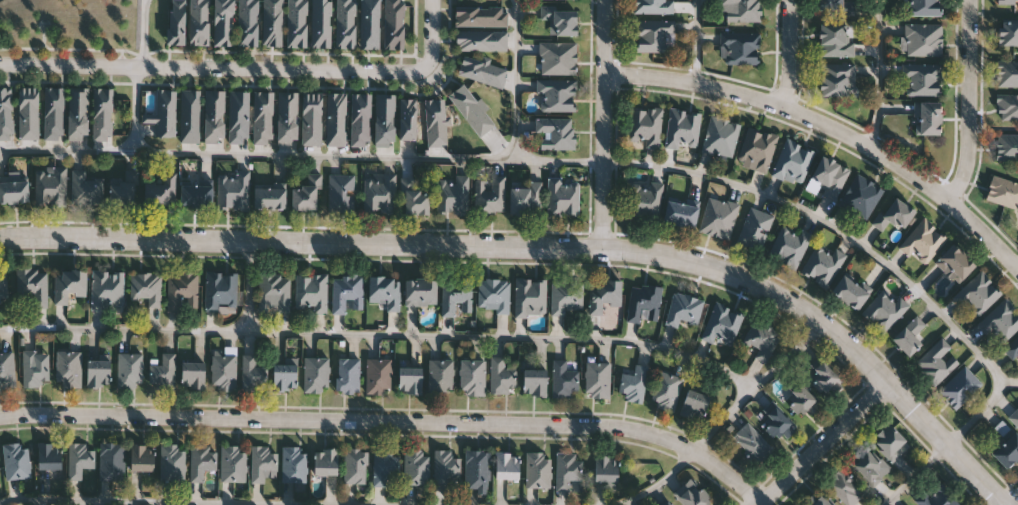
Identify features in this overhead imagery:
building: (1008, 2)
building: (837, 5)
building: (653, 6)
building: (923, 7)
building: (741, 10)
building: (482, 17)
building: (560, 19)
building: (177, 22)
building: (199, 22)
building: (224, 22)
building: (248, 23)
building: (273, 23)
building: (297, 23)
building: (322, 23)
building: (346, 24)
building: (370, 24)
building: (395, 24)
building: (1008, 31)
road: (144, 33)
building: (652, 34)
road: (435, 35)
building: (834, 39)
building: (923, 39)
building: (481, 40)
road: (695, 41)
building: (739, 47)
road: (787, 53)
building: (557, 58)
road: (212, 68)
building: (483, 71)
road: (878, 72)
building: (1006, 73)
building: (836, 77)
building: (921, 78)
building: (556, 95)
road: (968, 101)
building: (1007, 107)
building: (472, 109)
road: (135, 110)
building: (165, 112)
building: (6, 113)
building: (29, 113)
building: (54, 113)
building: (78, 113)
building: (103, 114)
building: (214, 115)
building: (190, 116)
building: (239, 116)
building: (263, 117)
building: (287, 117)
building: (928, 117)
building: (312, 118)
building: (336, 118)
building: (360, 119)
building: (385, 119)
building: (408, 119)
building: (436, 122)
road: (600, 122)
road: (831, 122)
building: (645, 125)
building: (682, 129)
building: (554, 133)
building: (720, 136)
building: (1006, 146)
building: (757, 148)
road: (257, 155)
building: (792, 162)
building: (828, 177)
building: (50, 186)
building: (13, 188)
building: (86, 189)
building: (124, 189)
building: (160, 191)
building: (233, 191)
building: (1003, 191)
road: (752, 192)
building: (341, 193)
building: (378, 193)
building: (196, 194)
building: (306, 194)
building: (269, 195)
building: (452, 195)
building: (489, 195)
building: (861, 196)
building: (562, 197)
building: (525, 198)
building: (414, 199)
building: (643, 200)
building: (680, 213)
building: (893, 214)
building: (718, 218)
building: (755, 228)
building: (922, 242)
road: (548, 243)
building: (789, 246)
building: (954, 263)
building: (822, 264)
building: (69, 285)
road: (249, 285)
building: (3, 286)
building: (32, 286)
building: (146, 287)
building: (107, 290)
building: (182, 291)
building: (221, 291)
building: (419, 291)
building: (849, 291)
building: (384, 292)
building: (274, 293)
building: (311, 293)
building: (978, 293)
building: (347, 294)
building: (603, 294)
building: (493, 295)
building: (456, 296)
building: (529, 297)
building: (566, 297)
building: (643, 302)
building: (683, 310)
building: (883, 310)
building: (1001, 321)
building: (722, 325)
road: (380, 335)
building: (909, 335)
building: (761, 341)
building: (1012, 348)
building: (936, 362)
building: (68, 369)
building: (223, 369)
building: (7, 370)
building: (34, 370)
building: (130, 370)
building: (162, 372)
building: (97, 373)
building: (254, 374)
building: (316, 374)
building: (284, 375)
building: (502, 375)
building: (192, 376)
building: (348, 376)
building: (378, 376)
building: (441, 376)
building: (822, 376)
building: (472, 377)
building: (564, 379)
building: (597, 379)
building: (409, 381)
building: (534, 382)
building: (634, 384)
building: (959, 387)
building: (666, 390)
building: (799, 400)
building: (694, 404)
road: (390, 417)
building: (1014, 418)
road: (722, 419)
building: (753, 442)
road: (820, 443)
building: (890, 443)
building: (1005, 448)
building: (49, 456)
building: (141, 457)
building: (79, 459)
building: (201, 460)
building: (16, 461)
building: (111, 461)
building: (325, 461)
building: (262, 462)
building: (232, 463)
building: (293, 463)
building: (172, 464)
building: (385, 465)
building: (506, 465)
building: (355, 466)
building: (869, 466)
building: (416, 467)
building: (446, 468)
building: (605, 468)
building: (538, 469)
building: (567, 469)
building: (477, 470)
road: (915, 475)
building: (843, 488)
road: (1012, 491)
building: (693, 495)
building: (936, 496)
road: (1012, 500)
road: (182, 501)
building: (820, 501)

